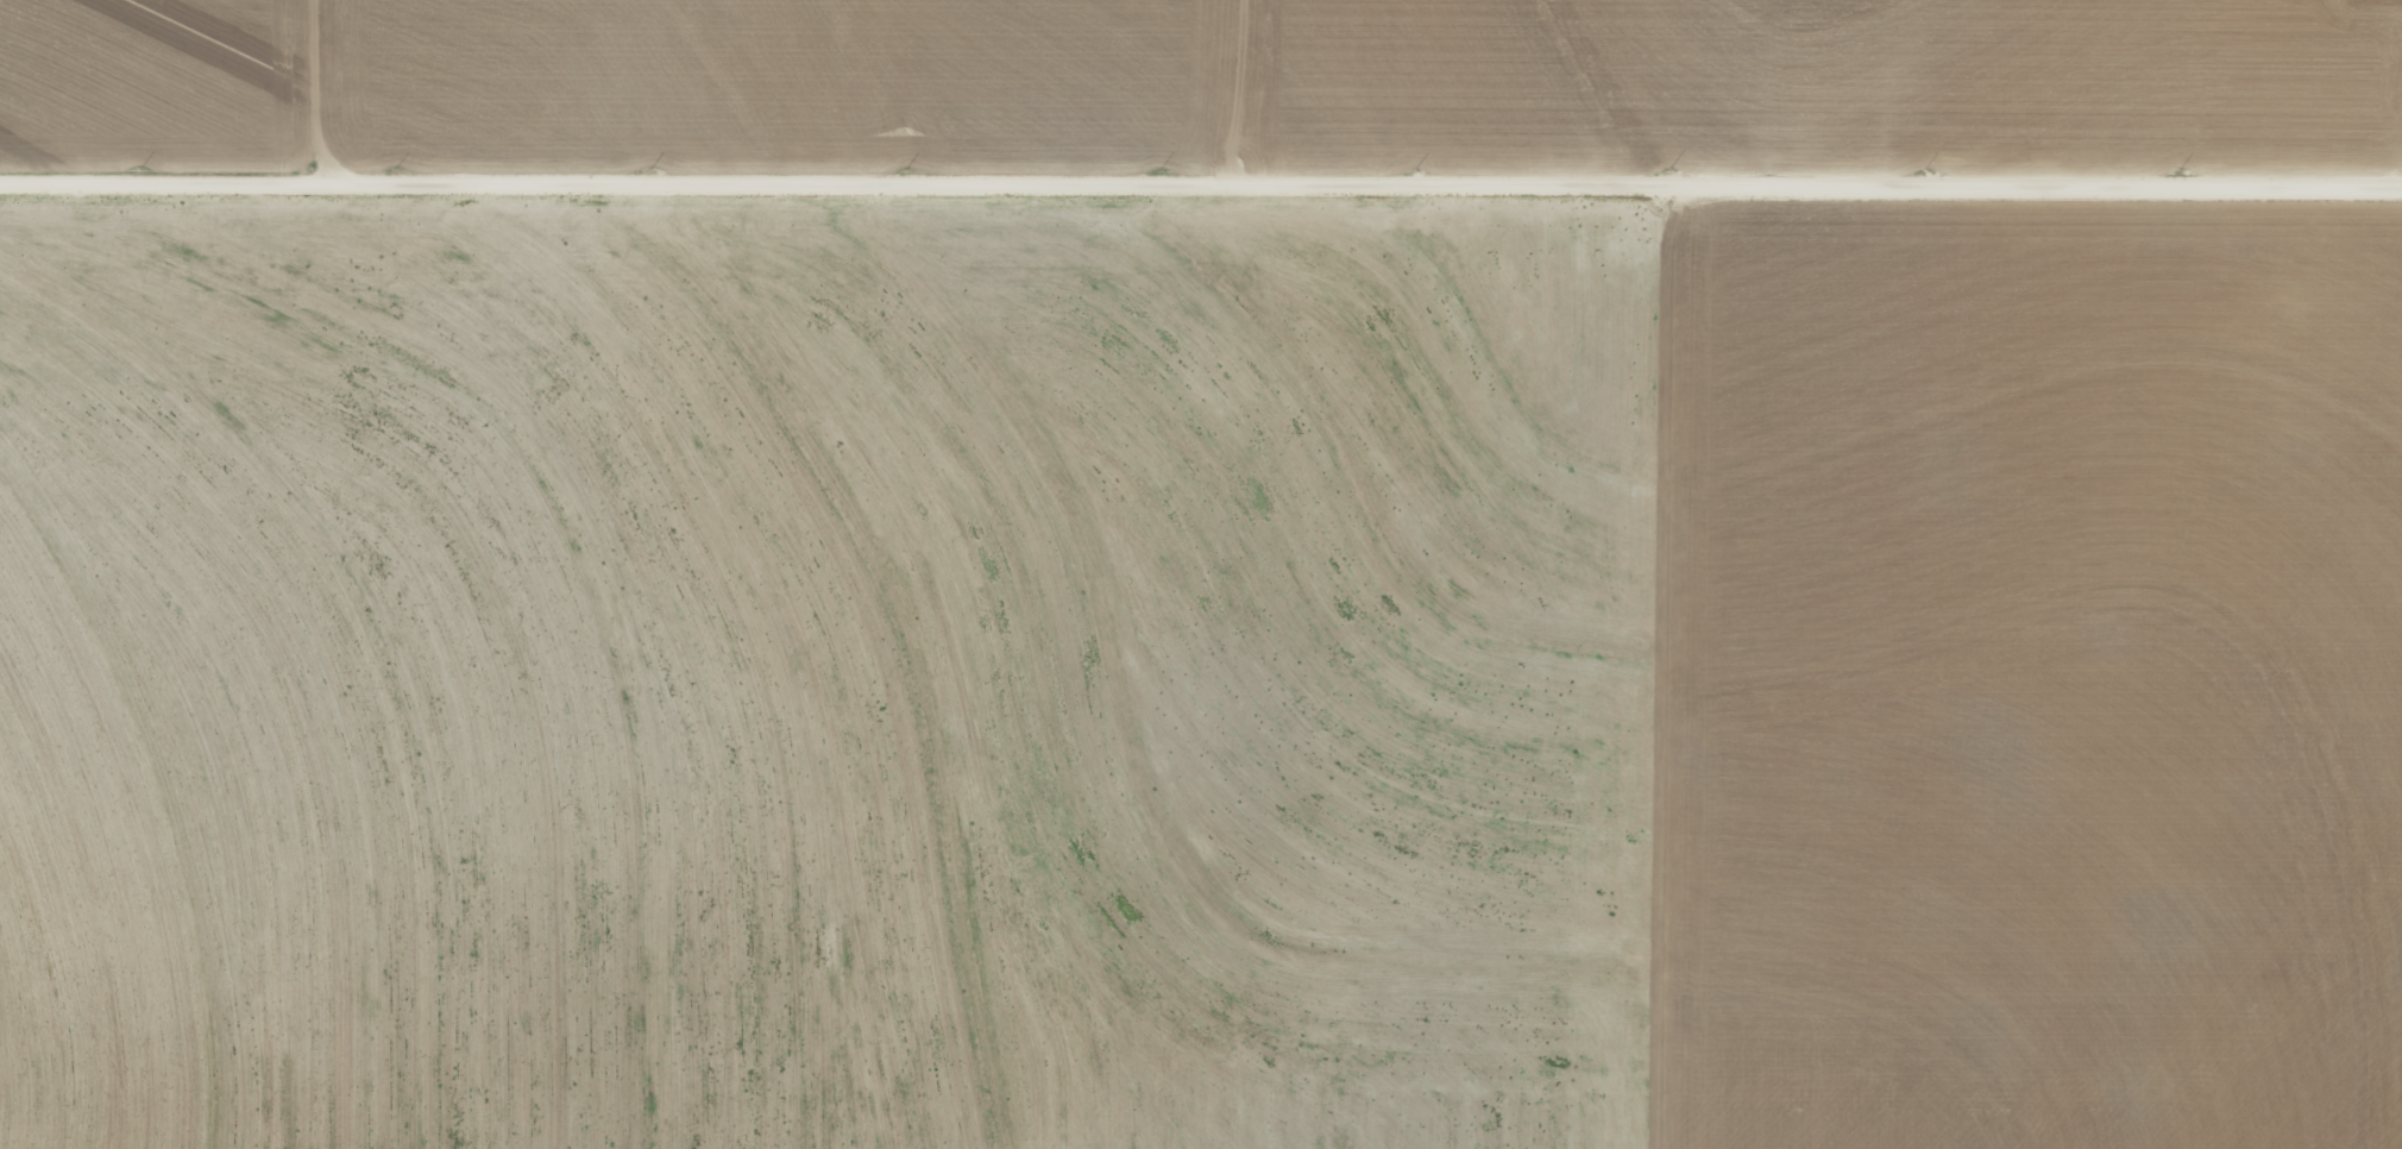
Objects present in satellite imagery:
road: (1201, 196)

